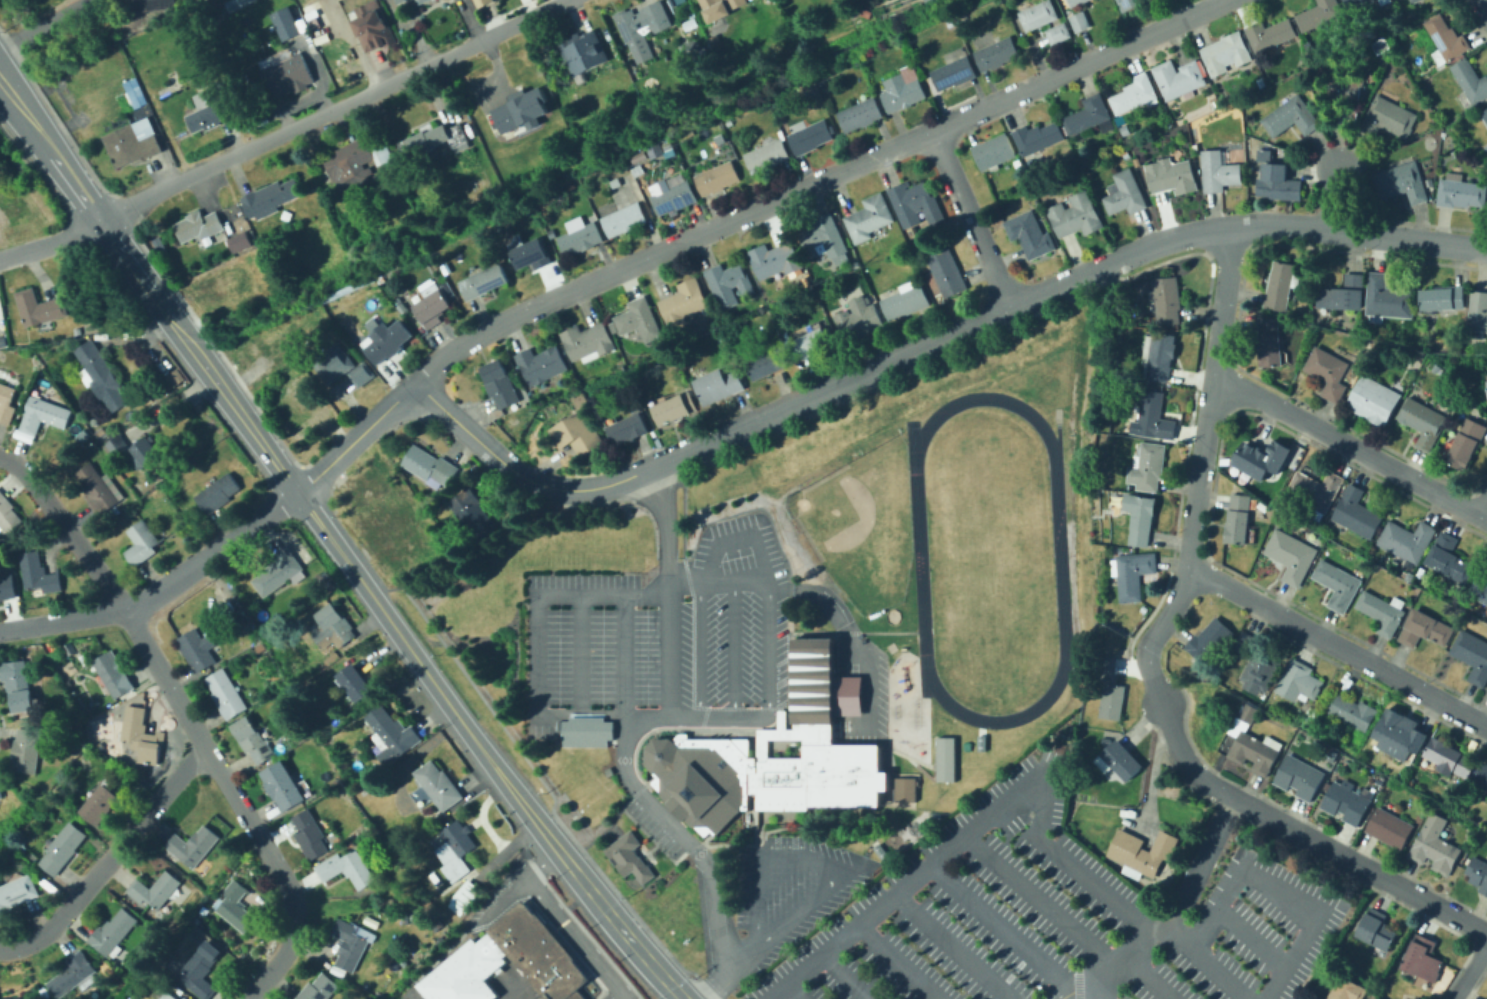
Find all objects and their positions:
building: (396, 0)
building: (416, 0)
building: (922, 0)
building: (927, 0)
building: (1410, 0)
building: (401, 1)
building: (422, 1)
building: (673, 1)
building: (1414, 1)
building: (483, 2)
building: (1385, 2)
building: (235, 3)
building: (1075, 3)
building: (1129, 4)
road: (1483, 6)
building: (1357, 7)
road: (528, 8)
building: (720, 8)
building: (208, 9)
building: (691, 11)
building: (1319, 14)
building: (1038, 15)
building: (312, 16)
building: (643, 21)
building: (1079, 22)
road: (47, 25)
building: (286, 25)
building: (691, 25)
building: (373, 30)
building: (1058, 34)
building: (1270, 34)
building: (1446, 40)
building: (715, 41)
building: (691, 45)
building: (1224, 50)
building: (581, 51)
building: (787, 53)
building: (995, 53)
building: (666, 58)
building: (287, 73)
building: (953, 73)
building: (1178, 78)
building: (1469, 84)
building: (171, 87)
building: (1348, 88)
building: (902, 92)
building: (1134, 94)
building: (135, 99)
building: (208, 109)
building: (1087, 114)
building: (860, 115)
building: (1484, 115)
building: (512, 117)
building: (1292, 117)
building: (1347, 117)
building: (1388, 118)
building: (1126, 130)
road: (284, 131)
building: (470, 131)
building: (810, 137)
building: (438, 138)
building: (1037, 138)
building: (130, 145)
building: (993, 152)
building: (1262, 154)
building: (767, 156)
building: (640, 158)
building: (1086, 161)
building: (358, 163)
building: (1279, 167)
building: (1219, 170)
building: (1171, 177)
building: (716, 178)
building: (1401, 182)
building: (616, 183)
road: (814, 184)
building: (1285, 189)
building: (1461, 192)
building: (1125, 194)
road: (1336, 194)
building: (673, 195)
building: (270, 198)
building: (913, 202)
building: (1076, 215)
building: (869, 218)
road: (973, 218)
building: (624, 219)
road: (1280, 223)
building: (198, 225)
building: (1029, 234)
building: (580, 236)
road: (1409, 237)
building: (822, 238)
building: (237, 240)
building: (160, 245)
building: (531, 254)
building: (775, 260)
building: (945, 274)
building: (484, 282)
building: (729, 284)
building: (1282, 285)
road: (148, 286)
building: (348, 288)
building: (226, 292)
building: (1342, 294)
building: (1442, 298)
building: (1167, 300)
building: (1387, 300)
building: (905, 301)
building: (683, 303)
building: (39, 307)
building: (433, 308)
building: (2, 311)
building: (405, 312)
building: (1478, 312)
building: (859, 319)
building: (639, 320)
building: (77, 330)
building: (2, 340)
building: (289, 340)
building: (588, 340)
building: (388, 341)
building: (1269, 341)
building: (813, 344)
building: (253, 347)
building: (1159, 355)
building: (333, 363)
building: (541, 364)
building: (766, 364)
building: (1328, 372)
building: (362, 373)
building: (101, 376)
building: (176, 377)
building: (500, 384)
building: (719, 385)
building: (1486, 387)
road: (811, 393)
road: (1210, 394)
building: (1374, 400)
building: (6, 403)
building: (674, 408)
building: (298, 410)
building: (44, 415)
building: (1153, 416)
building: (1422, 421)
building: (628, 429)
building: (577, 434)
road: (355, 437)
building: (115, 444)
building: (1466, 444)
road: (1350, 445)
building: (144, 452)
building: (1261, 459)
building: (427, 465)
building: (1147, 467)
building: (392, 469)
building: (99, 488)
building: (404, 490)
building: (1315, 492)
building: (217, 493)
building: (379, 500)
road: (1483, 507)
building: (1357, 513)
building: (8, 514)
building: (472, 515)
building: (423, 517)
building: (1238, 519)
building: (1142, 521)
road: (667, 524)
park: (859, 525)
road: (66, 528)
building: (1407, 540)
building: (141, 542)
building: (399, 545)
road: (212, 553)
building: (1291, 555)
track: (1058, 559)
building: (1449, 560)
building: (280, 571)
building: (39, 573)
building: (1133, 574)
road: (703, 583)
road: (1222, 583)
building: (1338, 584)
building: (7, 587)
building: (1479, 590)
road: (544, 596)
building: (1383, 612)
road: (1168, 613)
park: (891, 615)
road: (63, 622)
building: (331, 628)
building: (1424, 629)
parking lot: (664, 630)
road: (851, 632)
building: (1209, 640)
building: (1245, 643)
building: (196, 650)
road: (735, 650)
road: (770, 651)
road: (582, 655)
road: (627, 655)
building: (1472, 656)
building: (1103, 663)
road: (1372, 663)
park: (849, 669)
building: (1260, 672)
road: (426, 673)
building: (112, 675)
road: (1152, 681)
building: (1298, 681)
building: (355, 683)
building: (18, 685)
building: (1486, 689)
building: (226, 693)
building: (1112, 701)
building: (1352, 711)
building: (587, 731)
building: (791, 733)
building: (145, 735)
building: (391, 735)
building: (1399, 735)
building: (253, 740)
building: (980, 742)
building: (1251, 743)
building: (27, 750)
building: (1450, 758)
building: (944, 759)
building: (1119, 760)
building: (1482, 775)
building: (1299, 777)
building: (282, 785)
building: (436, 787)
building: (904, 789)
road: (1017, 791)
building: (0, 794)
road: (239, 802)
building: (1346, 803)
building: (100, 805)
road: (481, 814)
road: (473, 821)
building: (1390, 828)
parking lot: (656, 829)
building: (310, 834)
road: (1306, 835)
road: (686, 839)
building: (1435, 845)
building: (193, 847)
building: (64, 848)
building: (452, 848)
building: (879, 850)
road: (503, 851)
building: (1142, 852)
building: (626, 856)
road: (110, 858)
road: (815, 859)
road: (1201, 862)
building: (347, 868)
building: (1478, 873)
building: (155, 889)
parking lot: (793, 889)
building: (17, 893)
road: (1277, 893)
building: (462, 895)
road: (500, 901)
building: (237, 907)
road: (1065, 919)
road: (576, 920)
road: (563, 922)
road: (619, 927)
road: (1005, 929)
parking lot: (569, 930)
building: (1376, 930)
building: (113, 933)
building: (352, 943)
road: (956, 946)
building: (511, 947)
road: (1117, 956)
building: (1423, 959)
road: (897, 961)
road: (1203, 966)
building: (202, 970)
road: (728, 973)
road: (1470, 974)
building: (73, 975)
road: (793, 975)
road: (846, 975)
building: (319, 988)
road: (602, 990)
road: (795, 990)
building: (1347, 990)
road: (1087, 995)
building: (169, 996)
building: (183, 997)
building: (8, 998)
building: (18, 998)
building: (186, 998)
building: (1319, 998)

